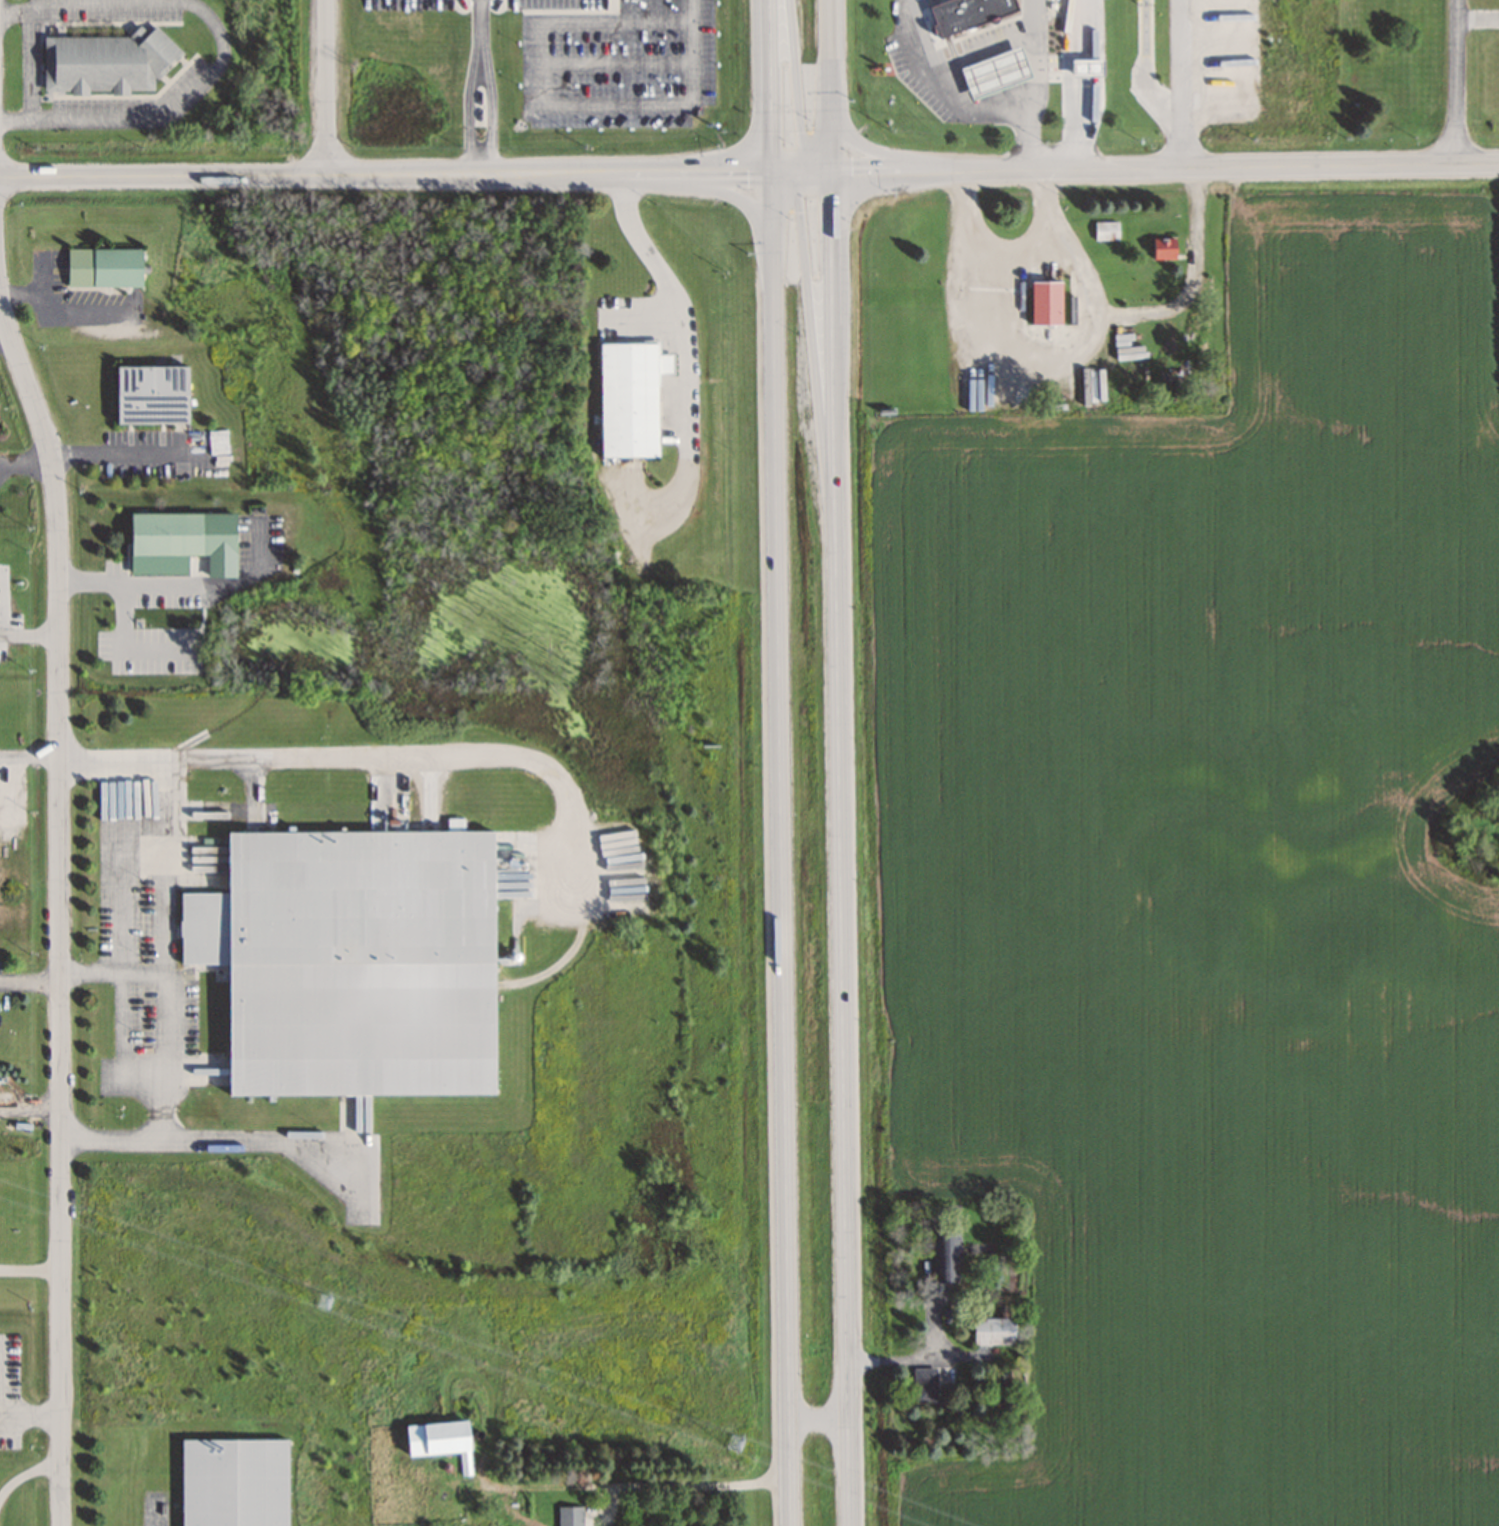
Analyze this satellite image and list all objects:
building: (967, 13)
road: (478, 35)
road: (222, 48)
road: (829, 58)
road: (1036, 60)
building: (105, 62)
building: (1086, 68)
building: (994, 73)
road: (1182, 83)
road: (1066, 84)
road: (325, 86)
road: (771, 86)
road: (795, 91)
road: (959, 102)
road: (468, 110)
road: (491, 110)
road: (830, 144)
road: (871, 148)
road: (480, 161)
road: (1164, 167)
road: (800, 172)
traffic signals: (830, 172)
road: (385, 173)
traffic signals: (771, 173)
road: (729, 194)
building: (1106, 231)
road: (1062, 246)
building: (1163, 248)
building: (103, 268)
building: (1045, 304)
road: (808, 314)
road: (3, 328)
road: (681, 328)
road: (1066, 351)
building: (151, 395)
building: (629, 398)
road: (25, 460)
building: (187, 539)
road: (30, 632)
road: (30, 755)
road: (365, 755)
road: (840, 848)
road: (780, 849)
road: (61, 904)
road: (167, 948)
building: (352, 960)
road: (114, 972)
road: (30, 982)
road: (209, 1139)
building: (946, 1255)
power tower: (322, 1299)
building: (993, 1331)
building: (925, 1385)
building: (436, 1437)
power tower: (736, 1441)
building: (234, 1482)
building: (570, 1516)

